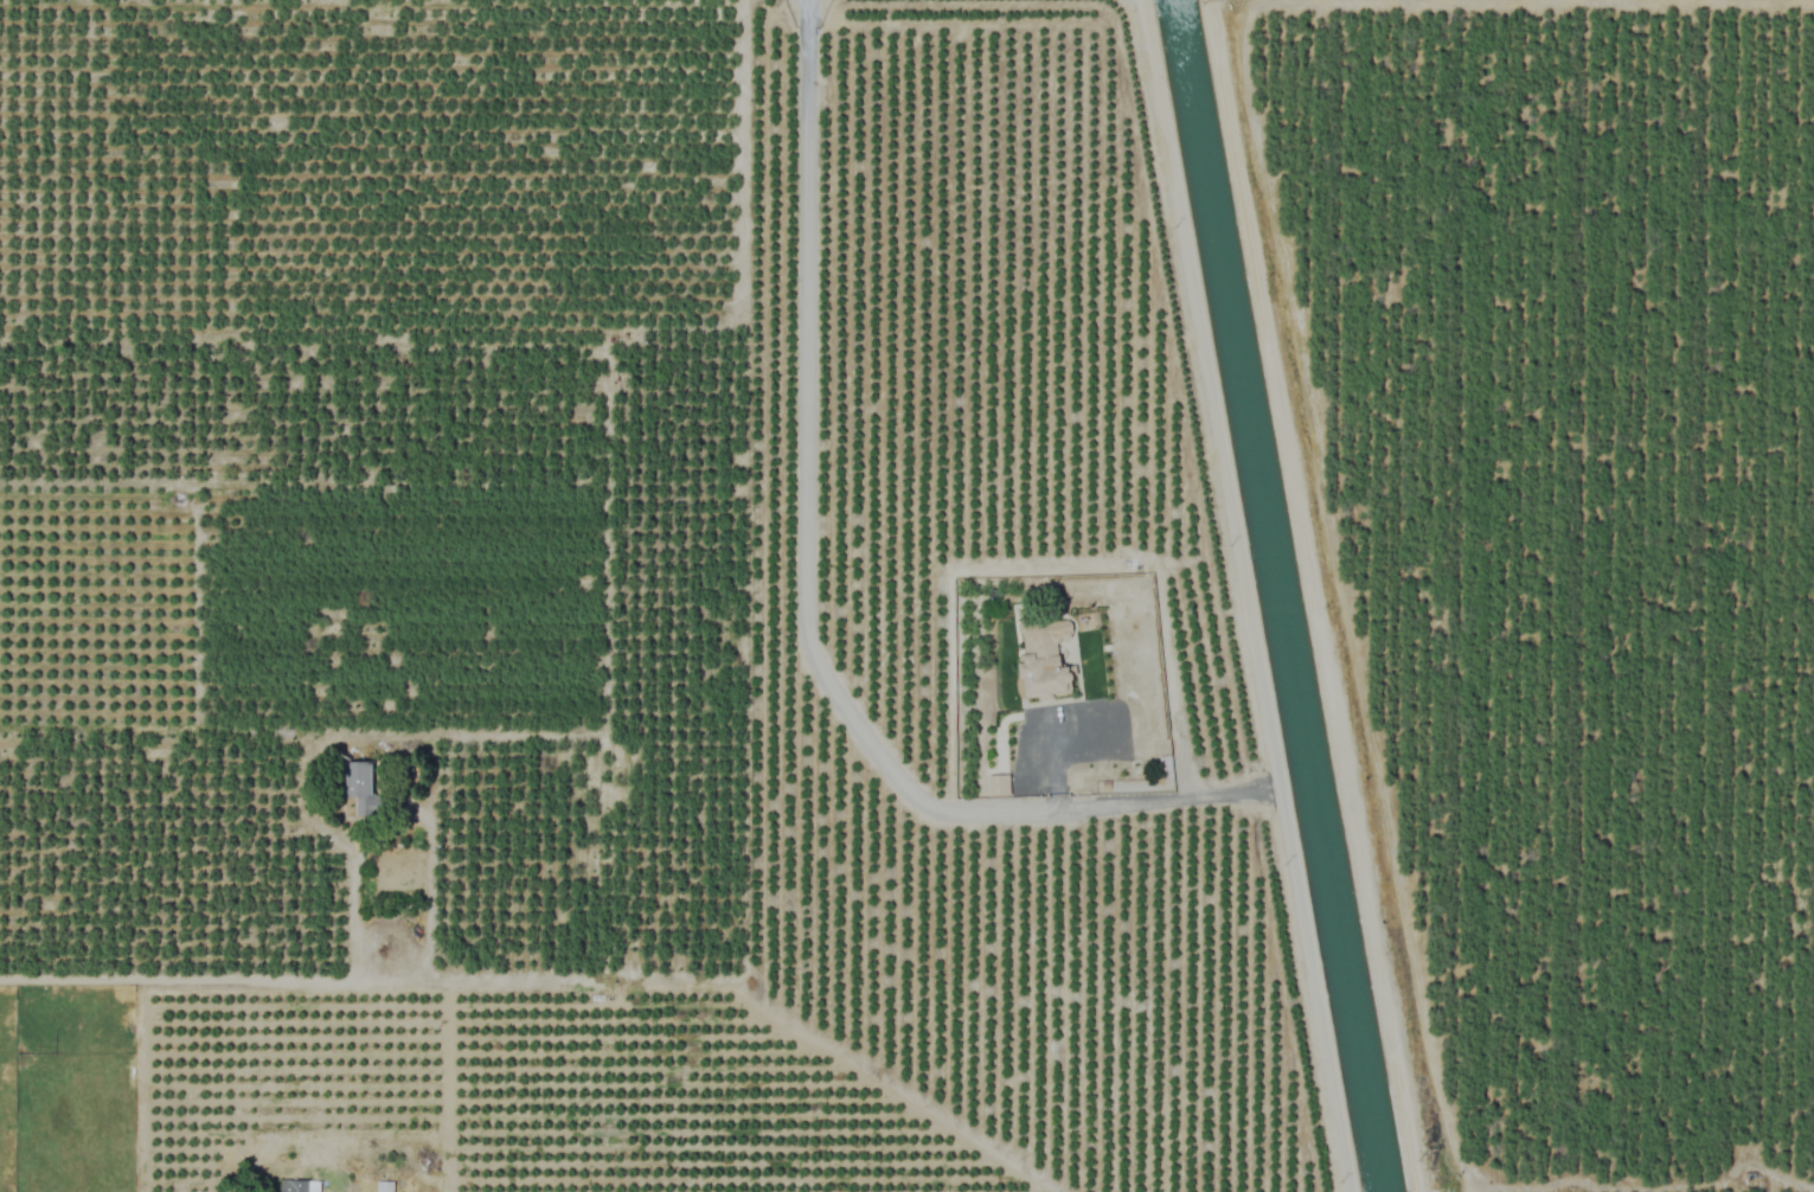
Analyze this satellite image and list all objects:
road: (805, 592)
building: (1045, 660)
building: (1075, 738)
building: (998, 784)
building: (365, 788)
road: (235, 976)
building: (300, 1186)
building: (384, 1186)

